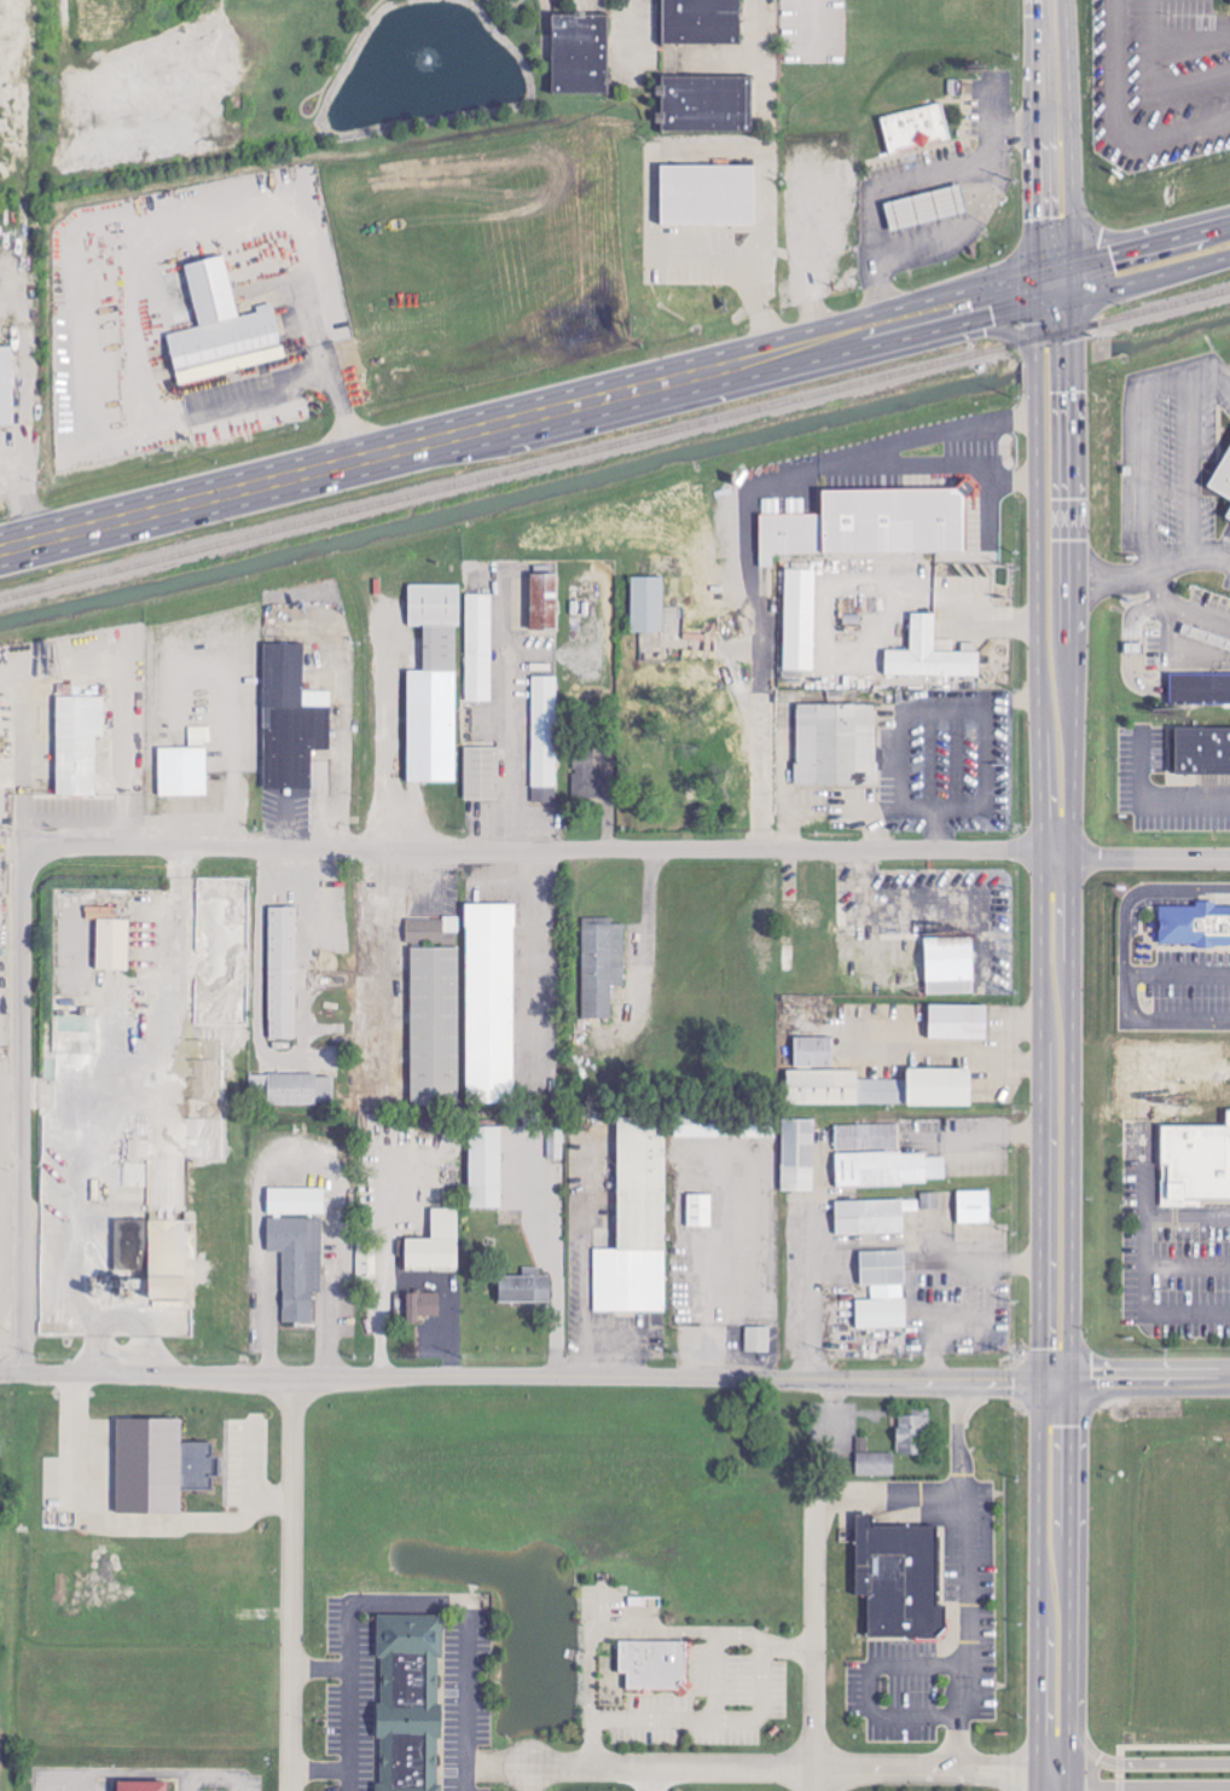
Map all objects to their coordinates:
building: (702, 21)
road: (1046, 24)
road: (753, 28)
building: (580, 53)
building: (704, 103)
building: (916, 127)
building: (707, 195)
building: (927, 208)
traffic signals: (1031, 219)
road: (1127, 249)
traffic signals: (1114, 254)
road: (1131, 282)
traffic signals: (988, 301)
road: (762, 309)
building: (222, 329)
traffic signals: (996, 329)
road: (312, 330)
road: (998, 330)
road: (300, 384)
building: (6, 387)
traffic signals: (1075, 393)
road: (515, 418)
railway: (615, 445)
road: (930, 465)
building: (1223, 479)
building: (1228, 517)
road: (742, 520)
building: (889, 520)
road: (1130, 576)
building: (545, 601)
building: (646, 603)
building: (434, 605)
road: (1201, 616)
building: (800, 620)
building: (477, 648)
road: (1177, 654)
building: (930, 655)
building: (1200, 689)
building: (433, 708)
road: (507, 712)
building: (289, 719)
building: (541, 738)
building: (830, 743)
building: (79, 744)
building: (1202, 752)
building: (181, 771)
building: (480, 772)
road: (619, 850)
road: (1039, 905)
road: (1071, 918)
building: (1194, 925)
building: (112, 945)
road: (526, 960)
building: (950, 967)
building: (602, 968)
building: (283, 974)
building: (491, 1004)
building: (958, 1024)
building: (435, 1027)
road: (923, 1048)
road: (994, 1049)
building: (813, 1053)
road: (22, 1084)
building: (878, 1089)
building: (292, 1090)
building: (868, 1137)
building: (799, 1157)
building: (1196, 1164)
building: (486, 1169)
building: (889, 1170)
building: (930, 1201)
building: (296, 1202)
building: (974, 1207)
building: (700, 1212)
building: (874, 1217)
building: (637, 1224)
building: (436, 1246)
road: (923, 1248)
building: (167, 1262)
road: (1145, 1263)
building: (298, 1264)
road: (385, 1264)
road: (552, 1267)
building: (526, 1288)
building: (882, 1292)
road: (806, 1296)
road: (706, 1305)
building: (422, 1306)
road: (968, 1328)
building: (758, 1340)
road: (520, 1374)
road: (1135, 1379)
traffic signals: (1039, 1380)
traffic signals: (1069, 1380)
building: (911, 1436)
building: (0, 1445)
building: (874, 1461)
building: (159, 1468)
road: (888, 1501)
road: (967, 1573)
building: (899, 1580)
road: (289, 1582)
road: (464, 1604)
road: (599, 1638)
road: (812, 1638)
road: (735, 1639)
building: (654, 1664)
road: (713, 1682)
building: (410, 1703)
road: (348, 1718)
road: (709, 1726)
road: (1171, 1746)
road: (1072, 1762)
road: (1000, 1763)
road: (1170, 1763)
road: (497, 1764)
road: (1122, 1764)
road: (747, 1767)
road: (164, 1773)
road: (1122, 1775)
road: (1035, 1776)
road: (654, 1779)
road: (343, 1780)
road: (999, 1781)
road: (1122, 1785)
road: (1132, 1785)
building: (141, 1786)

